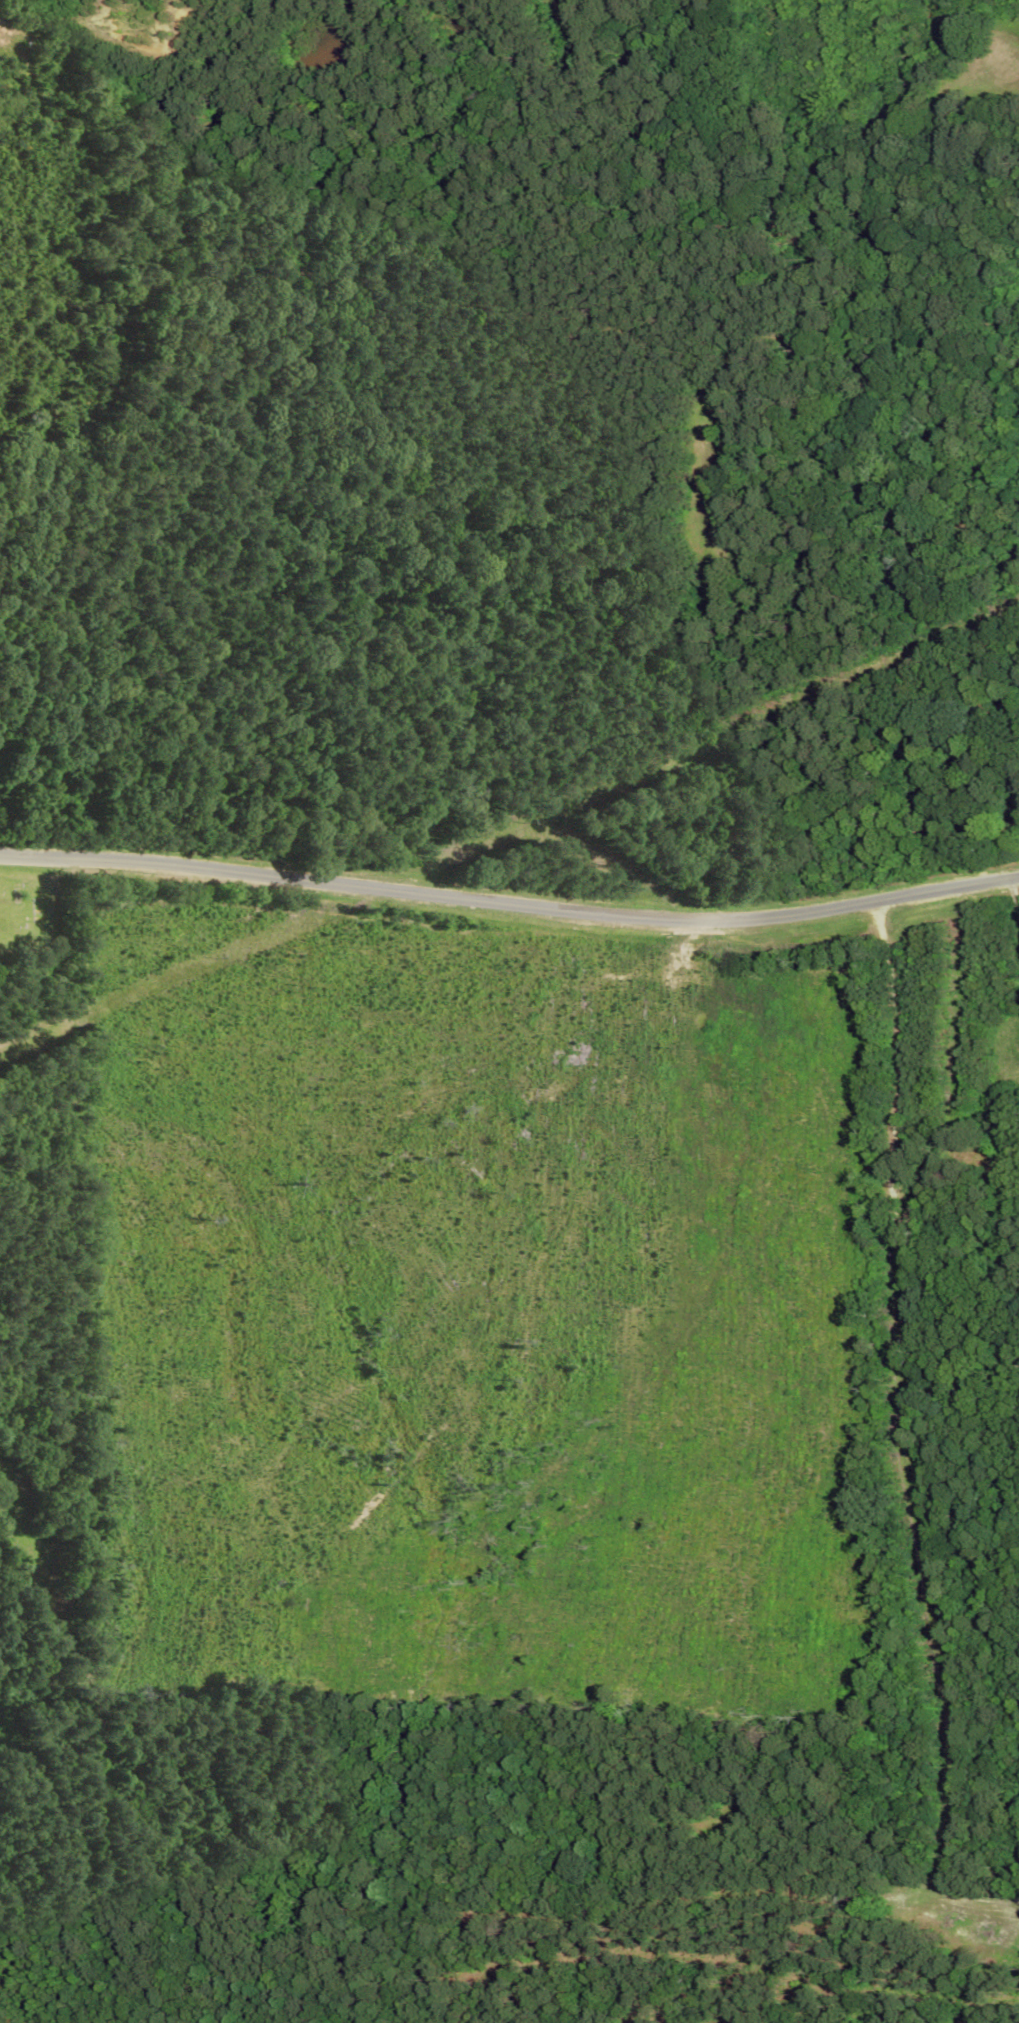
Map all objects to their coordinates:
road: (509, 909)
building: (848, 1901)

